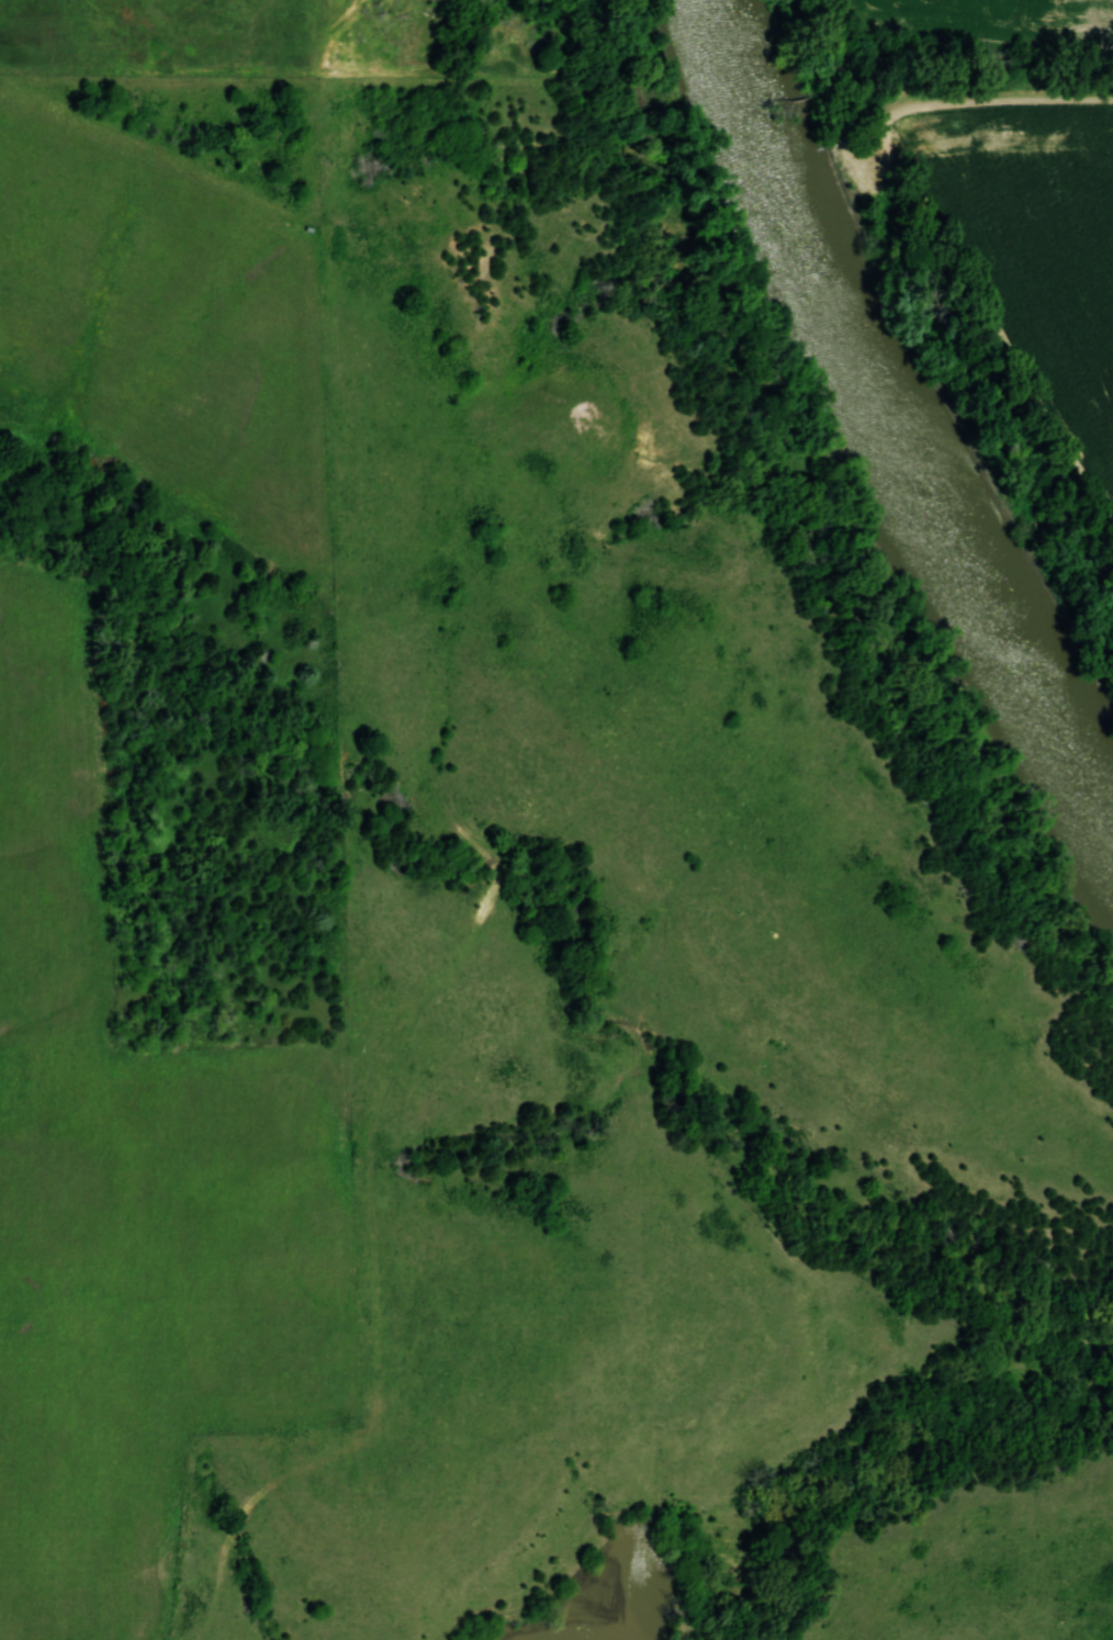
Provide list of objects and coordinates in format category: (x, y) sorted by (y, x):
river: (896, 411)

